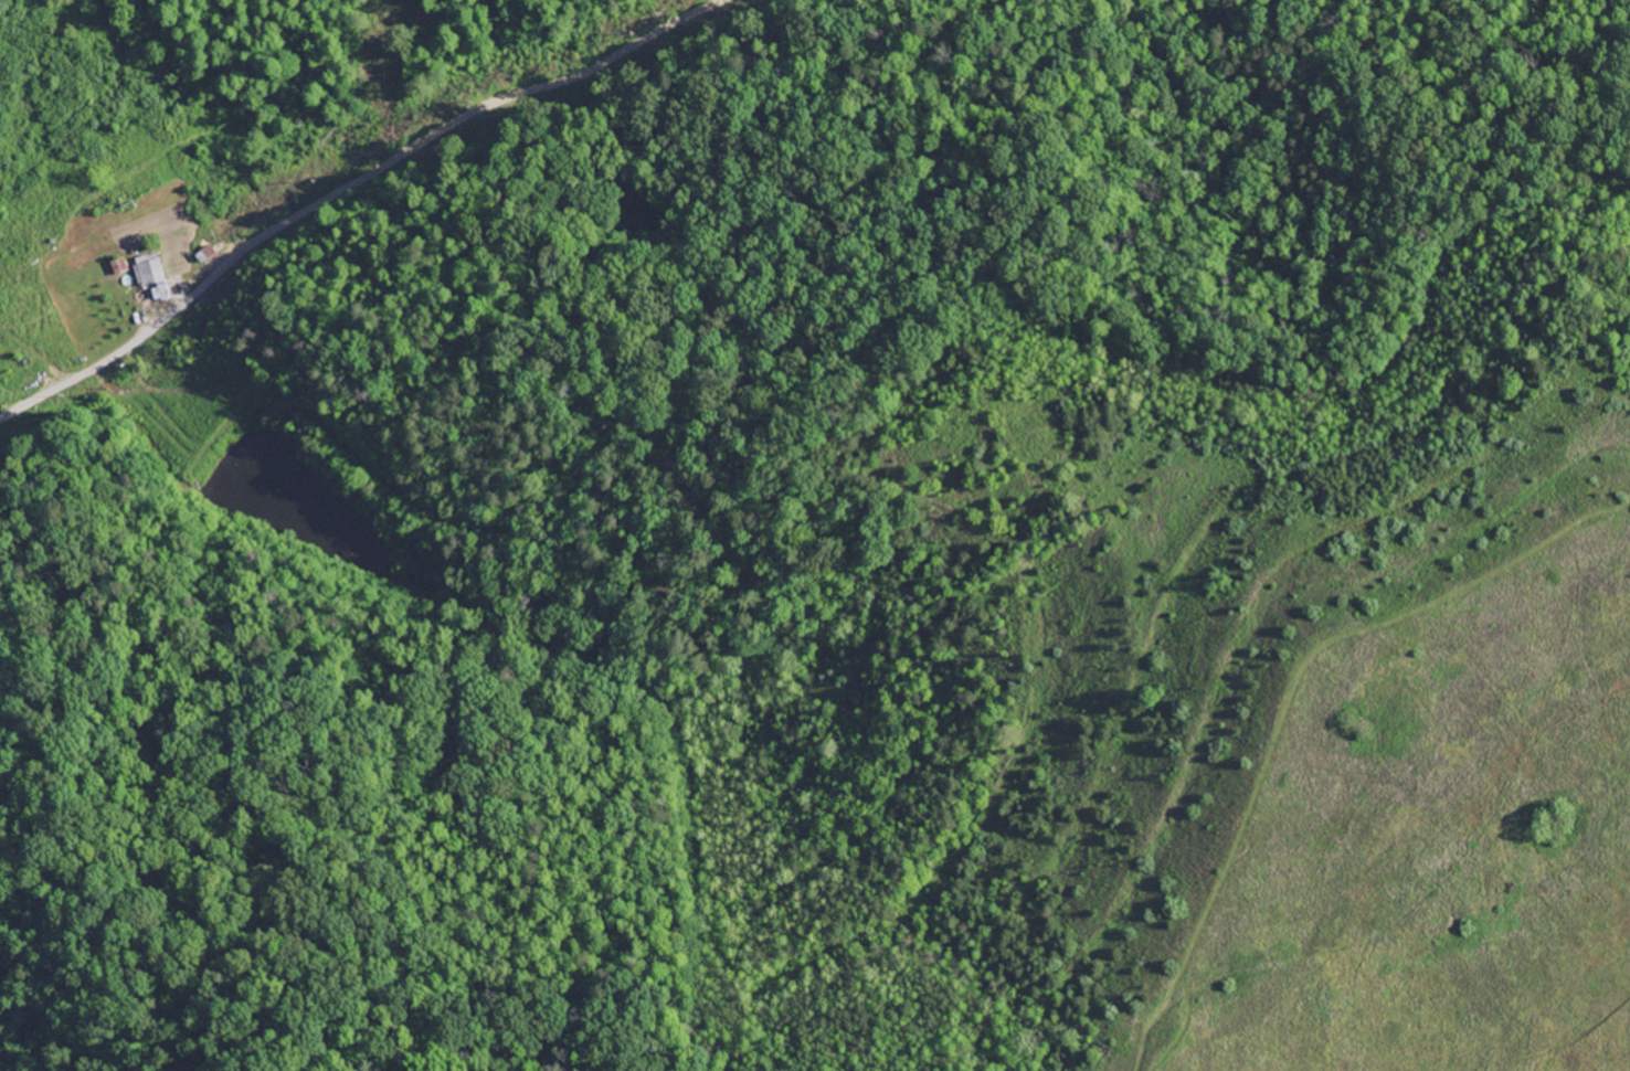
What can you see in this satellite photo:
road: (349, 201)
building: (152, 277)

